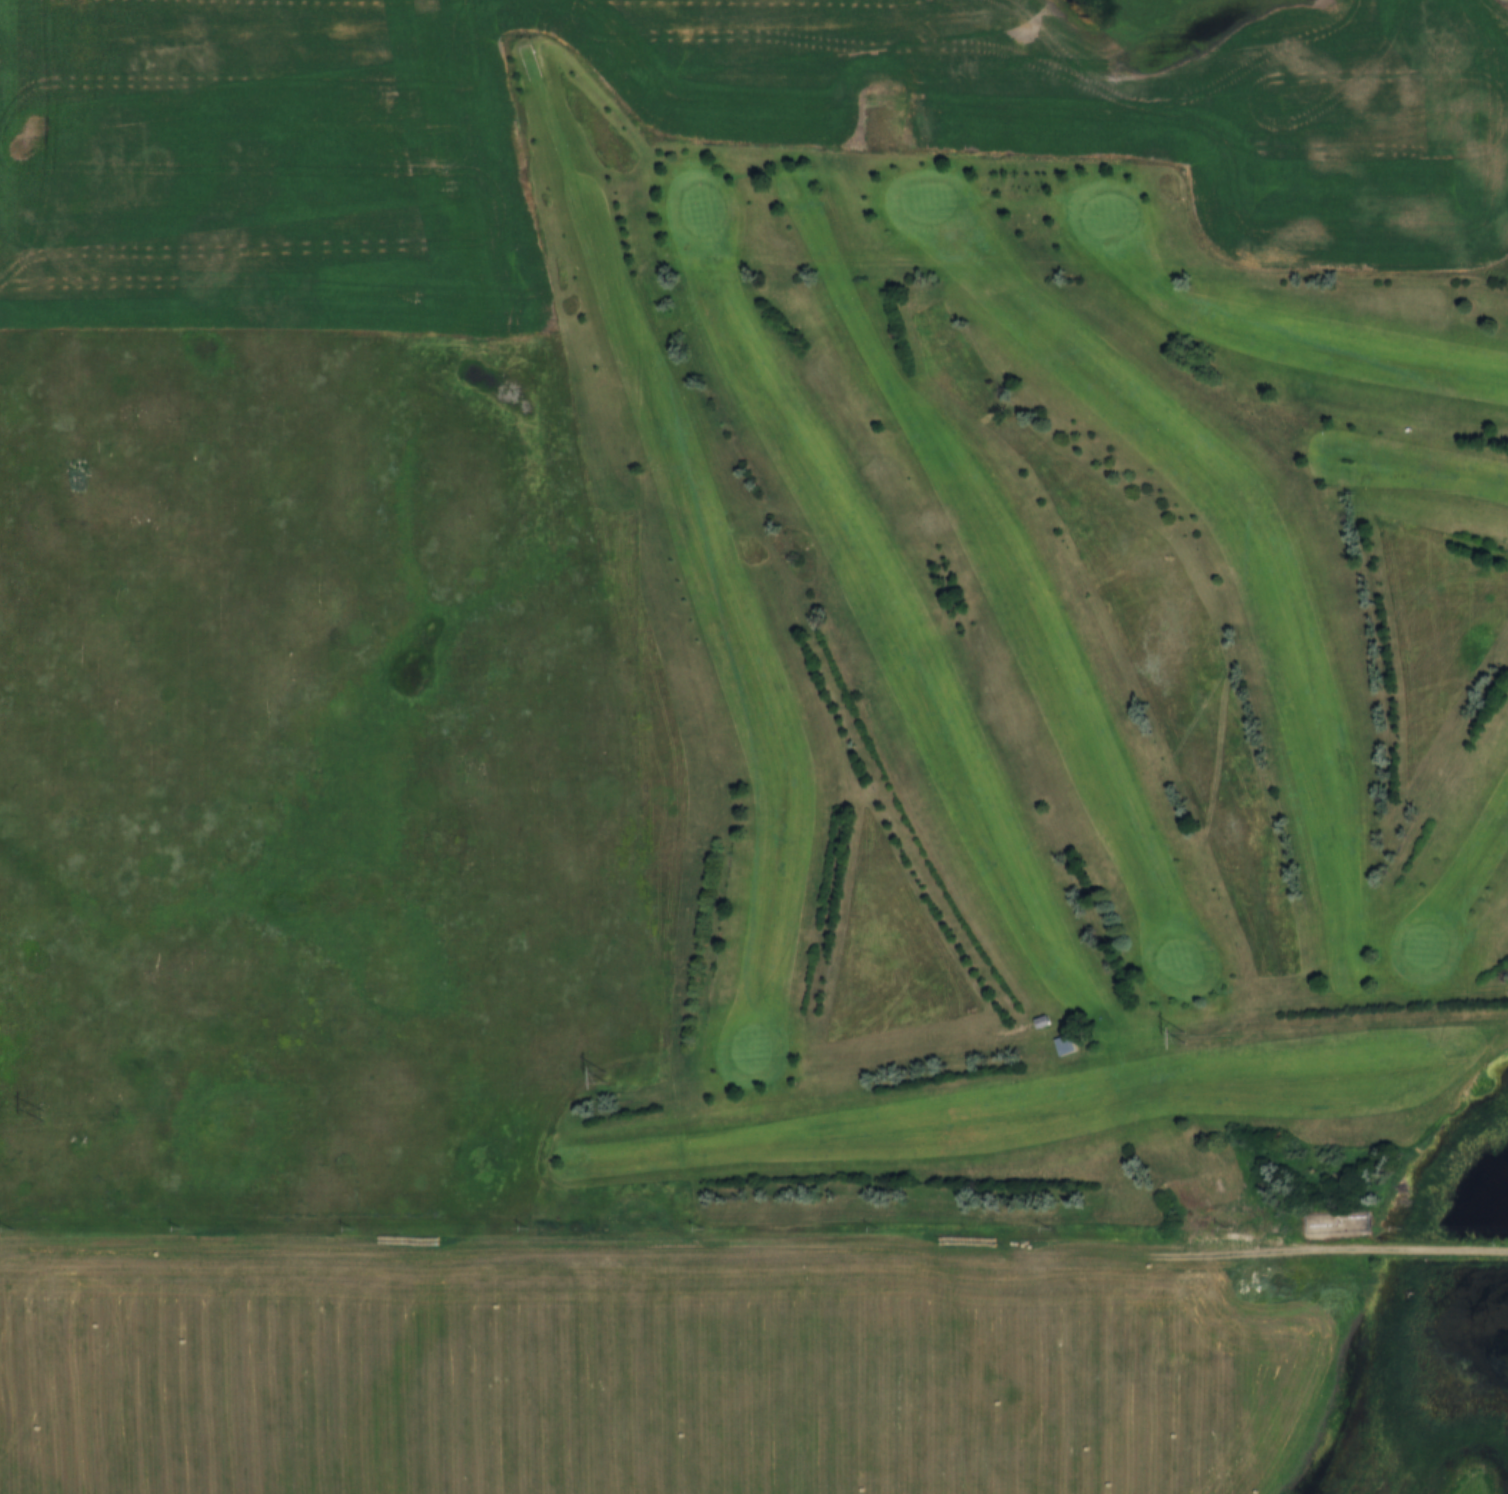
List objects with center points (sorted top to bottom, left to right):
building: (1065, 1045)
road: (1278, 1260)

